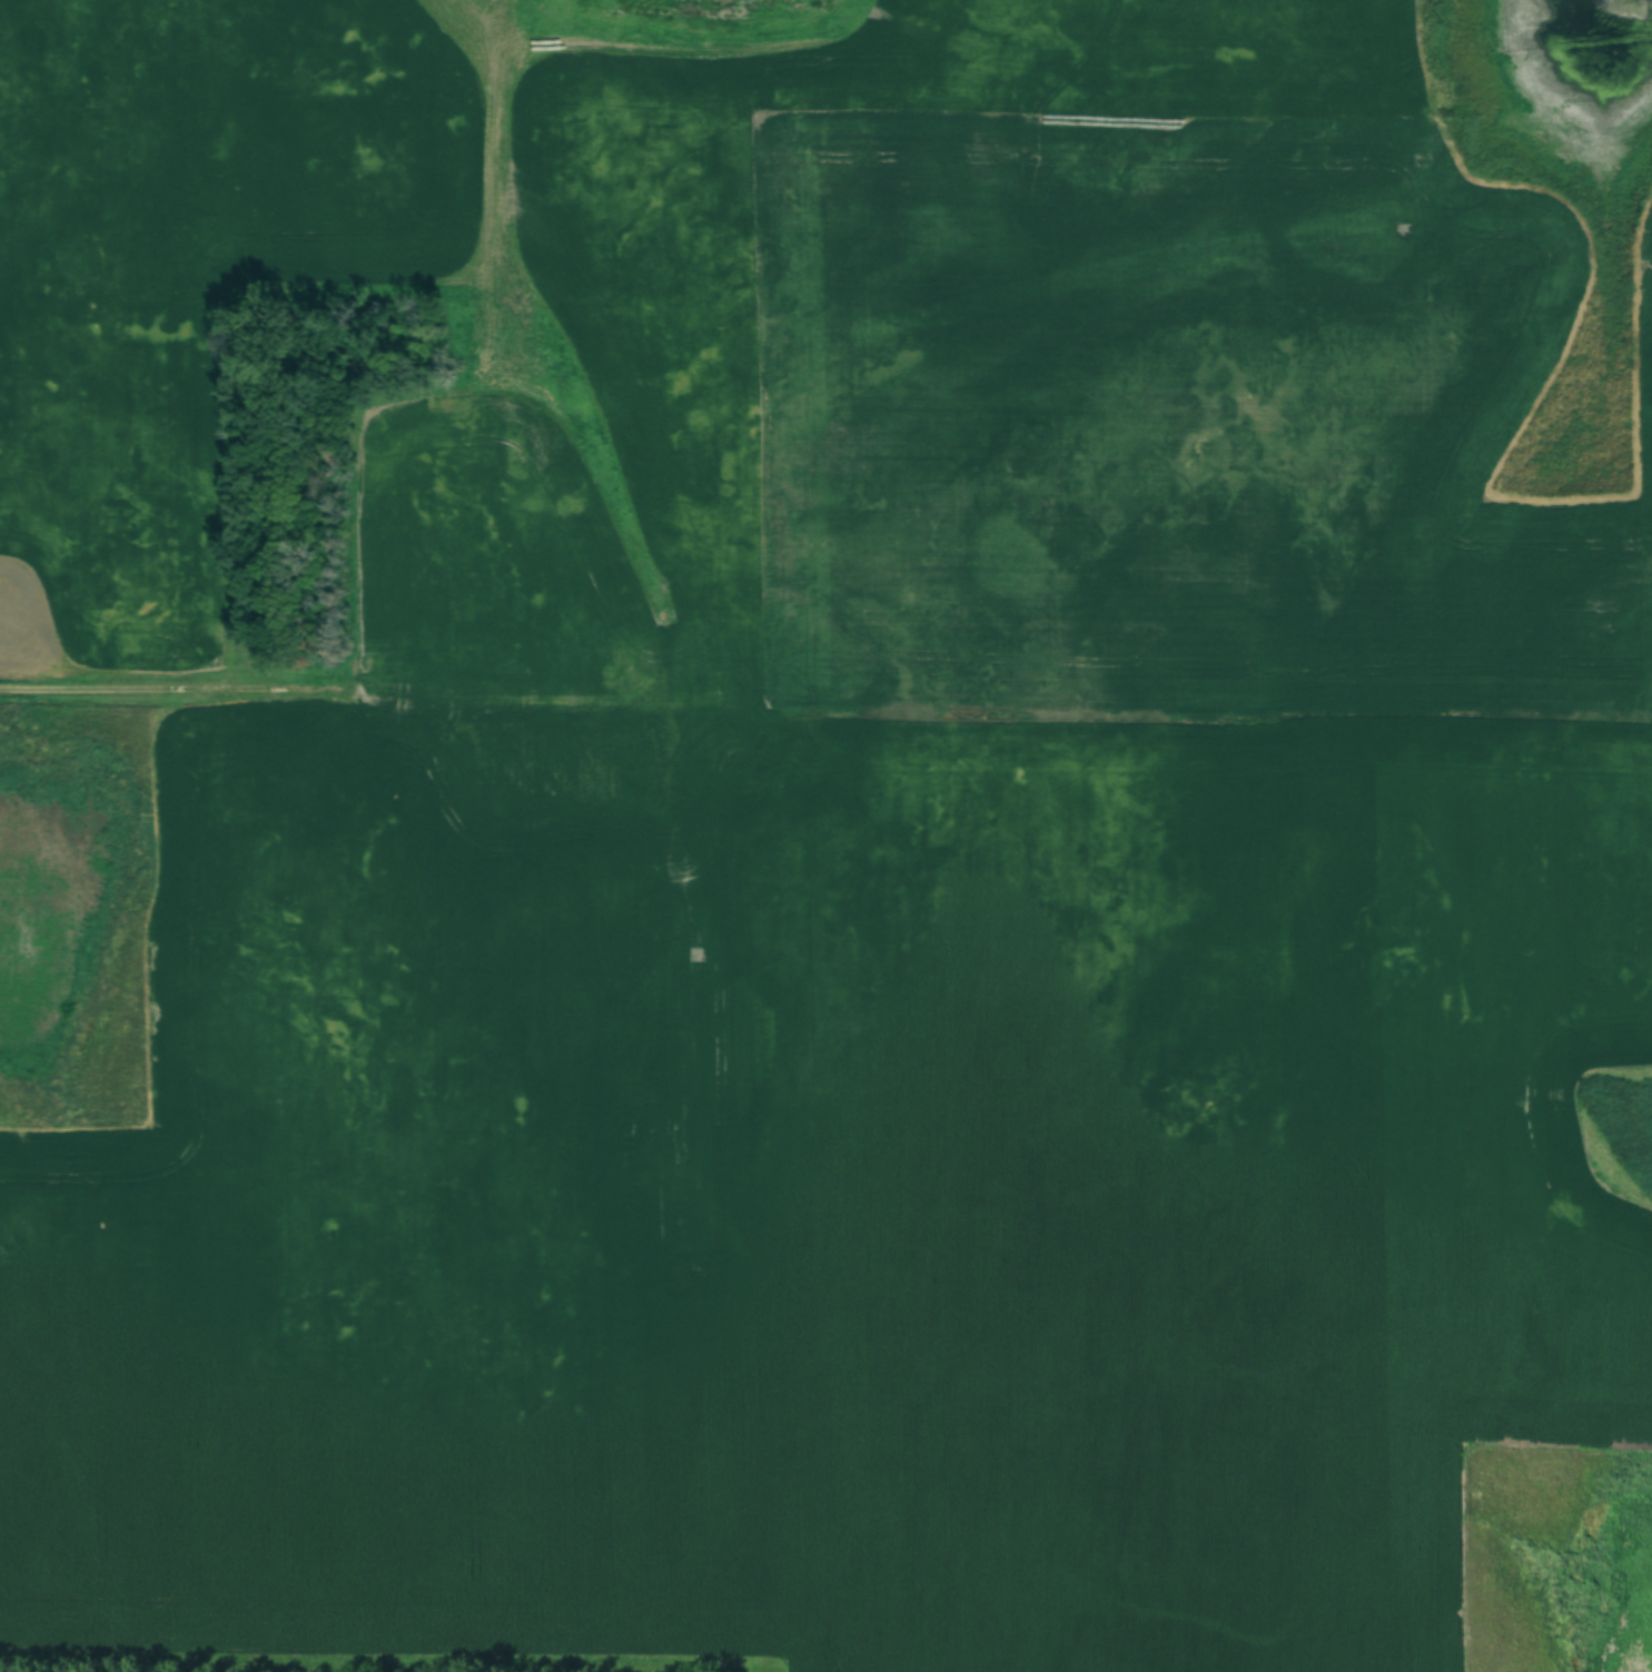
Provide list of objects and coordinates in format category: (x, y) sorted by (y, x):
building: (487, 479)
building: (531, 641)
road: (198, 693)

